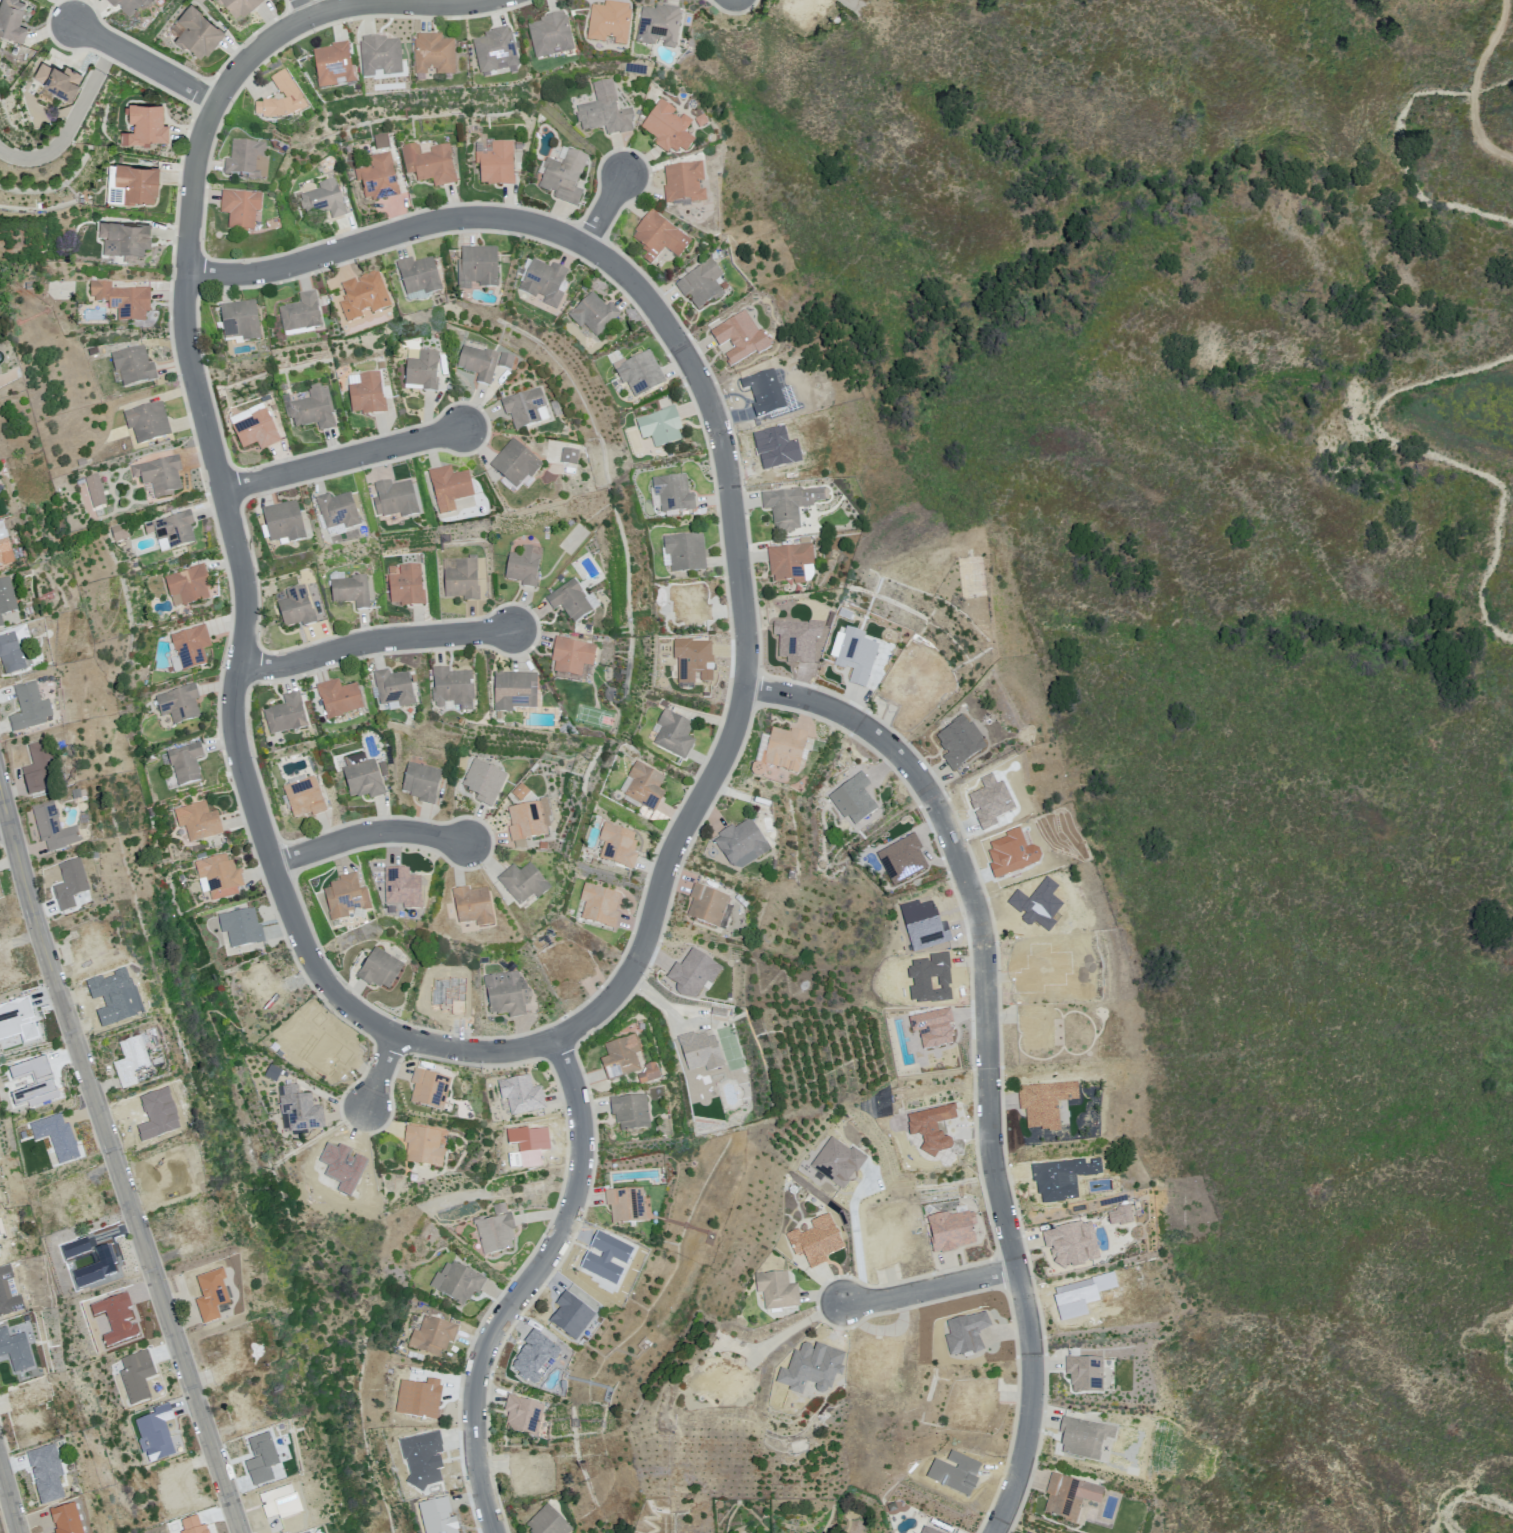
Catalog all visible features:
building: (128, 5)
building: (238, 6)
road: (306, 9)
building: (803, 10)
building: (11, 20)
building: (609, 24)
building: (659, 27)
building: (198, 33)
building: (550, 36)
building: (496, 51)
building: (434, 56)
building: (380, 57)
road: (147, 63)
building: (334, 65)
building: (58, 80)
road: (1474, 85)
building: (291, 94)
building: (605, 111)
road: (73, 122)
building: (145, 126)
building: (668, 128)
building: (381, 140)
building: (518, 145)
road: (1509, 147)
building: (247, 160)
building: (430, 163)
building: (497, 164)
building: (564, 176)
building: (378, 177)
building: (684, 182)
building: (136, 183)
building: (113, 195)
building: (324, 199)
building: (240, 209)
road: (607, 209)
building: (659, 237)
building: (125, 240)
building: (478, 267)
building: (419, 276)
building: (545, 283)
building: (701, 284)
building: (363, 296)
building: (123, 300)
building: (301, 314)
building: (594, 315)
building: (240, 322)
building: (735, 335)
building: (505, 360)
building: (478, 363)
building: (381, 364)
building: (133, 365)
building: (422, 369)
building: (639, 373)
building: (366, 393)
building: (765, 393)
building: (265, 396)
building: (524, 407)
building: (313, 409)
building: (148, 422)
building: (255, 426)
building: (660, 427)
road: (724, 443)
building: (780, 453)
building: (570, 457)
road: (345, 459)
building: (82, 461)
building: (516, 464)
building: (160, 475)
building: (450, 488)
building: (95, 490)
building: (673, 494)
building: (398, 500)
building: (790, 505)
building: (338, 513)
road: (233, 522)
building: (285, 523)
building: (116, 531)
building: (174, 531)
building: (6, 546)
building: (686, 553)
building: (790, 562)
building: (525, 567)
building: (462, 578)
building: (188, 585)
building: (406, 585)
building: (352, 591)
building: (7, 595)
building: (571, 600)
building: (691, 602)
building: (297, 608)
building: (0, 622)
road: (376, 641)
building: (192, 648)
building: (13, 655)
building: (572, 655)
building: (859, 657)
building: (692, 660)
building: (394, 689)
building: (453, 689)
building: (515, 692)
building: (339, 699)
building: (179, 704)
building: (27, 710)
building: (286, 715)
building: (674, 734)
building: (959, 742)
building: (786, 752)
building: (186, 764)
building: (39, 768)
building: (363, 777)
building: (484, 782)
building: (422, 783)
building: (646, 787)
building: (520, 792)
building: (305, 798)
building: (526, 820)
building: (199, 821)
road: (5, 829)
building: (53, 829)
road: (369, 834)
building: (740, 845)
building: (618, 846)
building: (220, 876)
building: (70, 883)
building: (524, 883)
building: (403, 890)
building: (346, 897)
building: (708, 905)
building: (601, 906)
building: (474, 907)
building: (242, 928)
building: (568, 965)
building: (380, 968)
building: (265, 985)
building: (507, 994)
building: (450, 996)
building: (701, 1052)
road: (989, 1052)
building: (328, 1053)
building: (621, 1056)
building: (131, 1061)
road: (384, 1070)
building: (650, 1072)
building: (429, 1089)
building: (522, 1095)
building: (1049, 1104)
building: (631, 1111)
building: (302, 1112)
building: (61, 1138)
building: (424, 1146)
road: (115, 1161)
building: (345, 1171)
building: (628, 1206)
building: (496, 1230)
building: (950, 1231)
building: (1073, 1243)
road: (857, 1247)
building: (458, 1283)
road: (529, 1284)
road: (932, 1289)
building: (777, 1290)
building: (433, 1336)
building: (19, 1351)
building: (1088, 1373)
building: (523, 1415)
building: (1081, 1437)
building: (262, 1459)
road: (11, 1492)
building: (1072, 1496)
building: (549, 1522)

